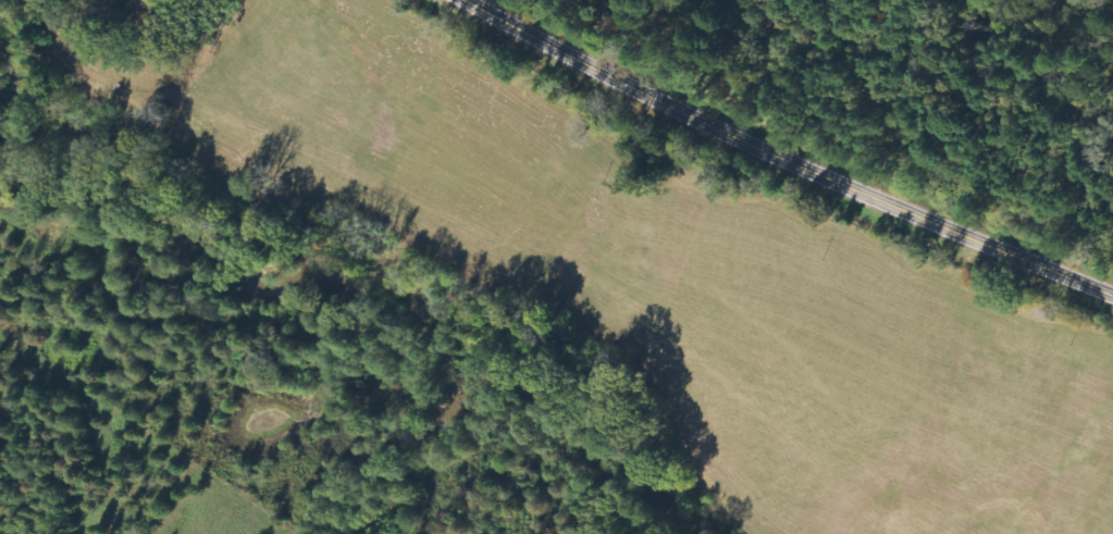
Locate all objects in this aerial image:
road: (788, 160)

